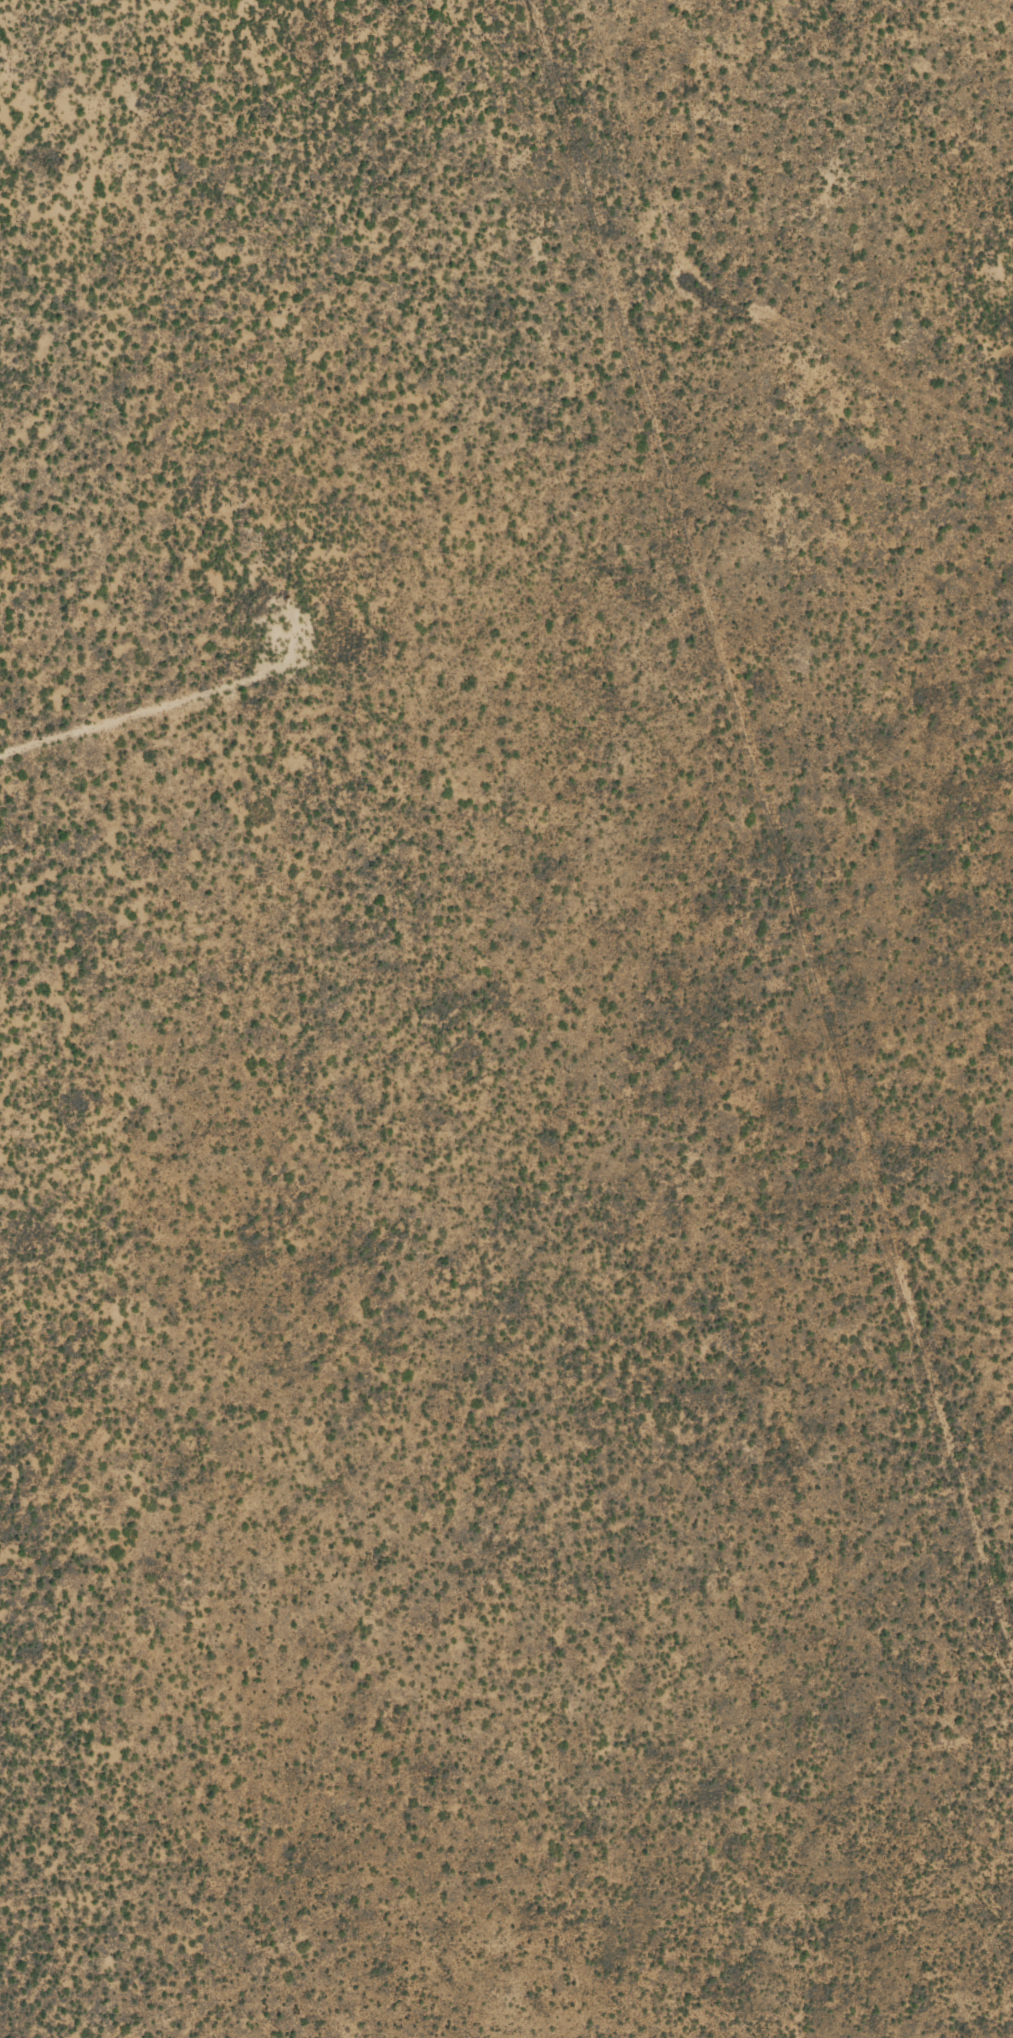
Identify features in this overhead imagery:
road: (160, 697)

